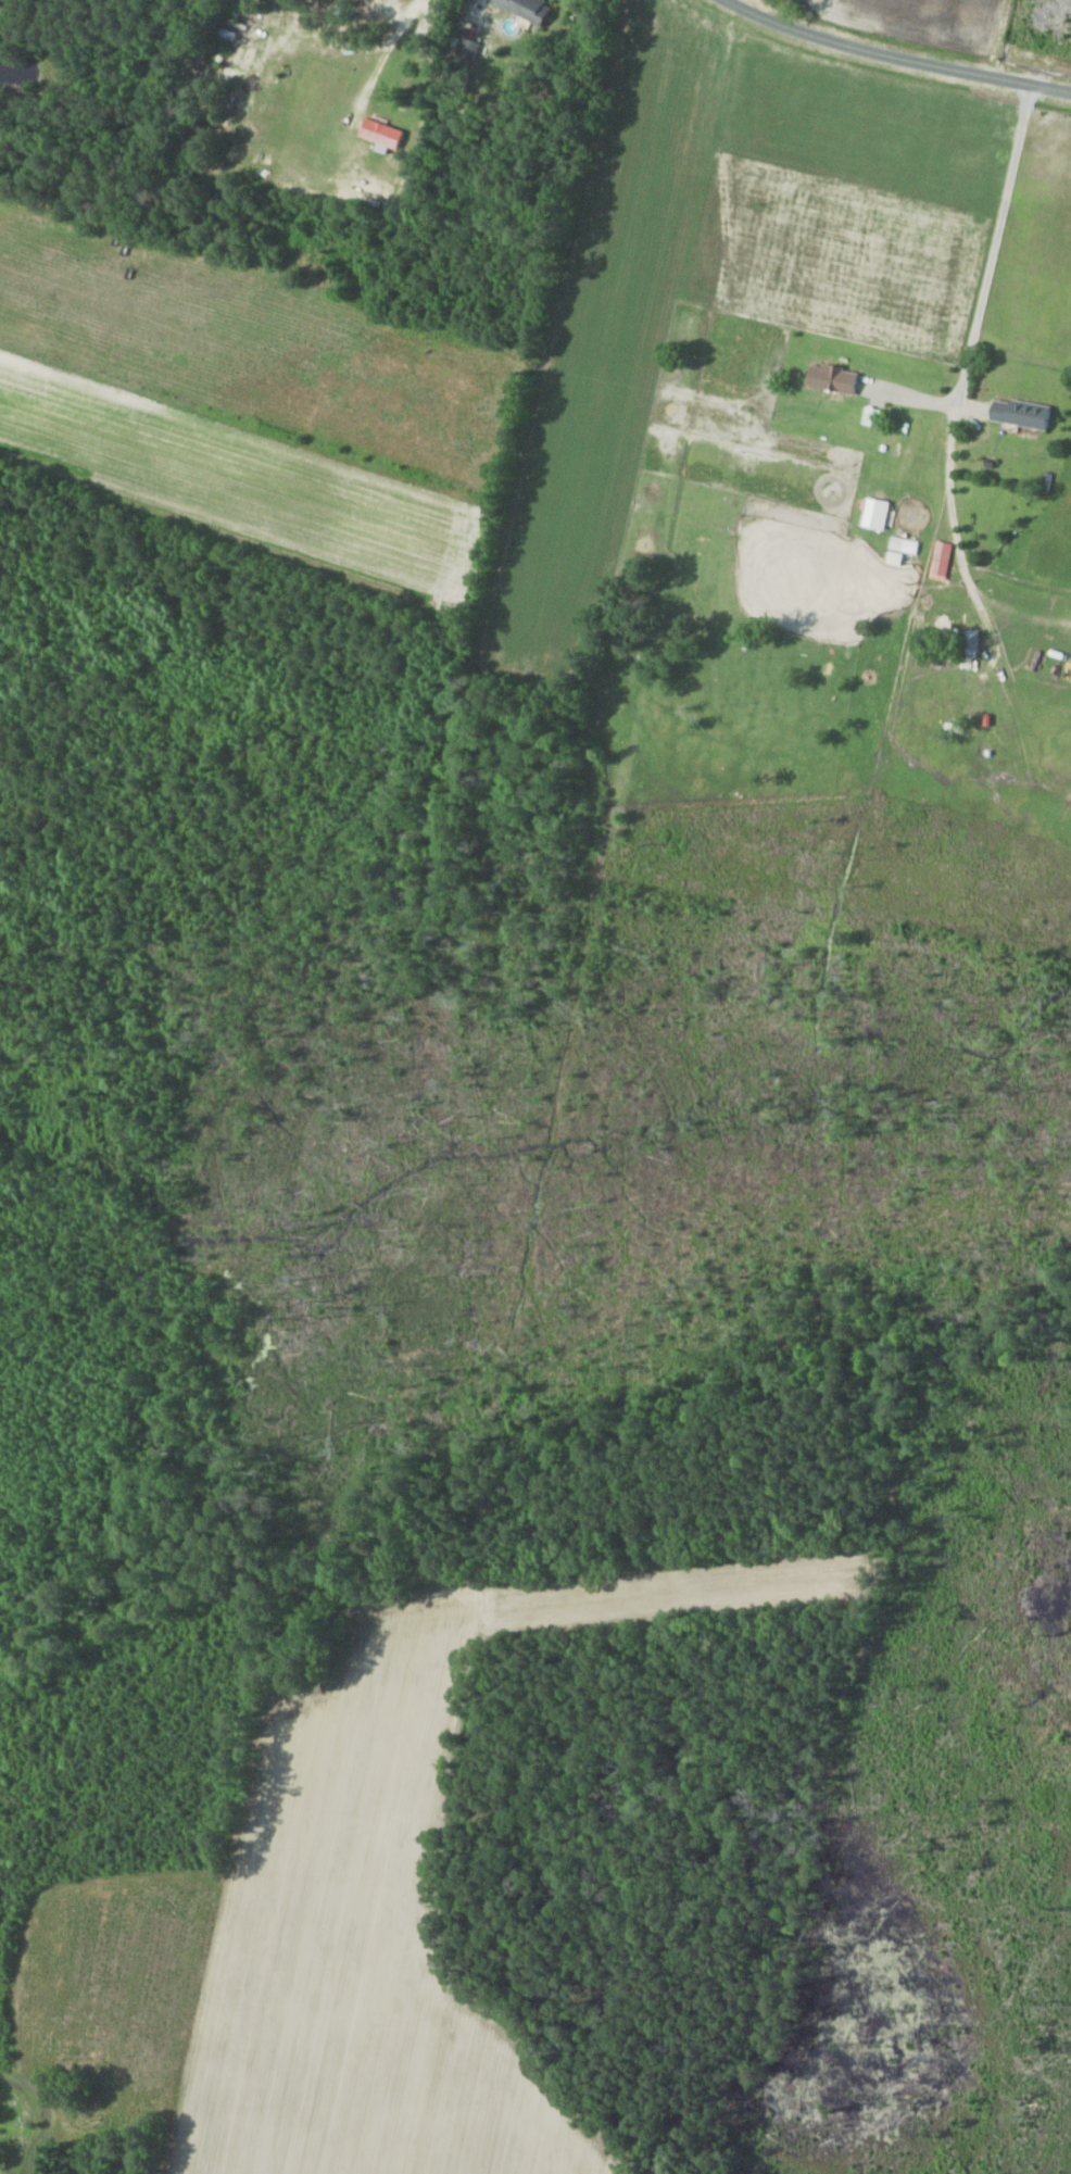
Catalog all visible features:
building: (530, 8)
road: (896, 56)
building: (829, 377)
building: (1017, 413)
building: (868, 416)
building: (871, 514)
building: (893, 551)
building: (936, 568)

